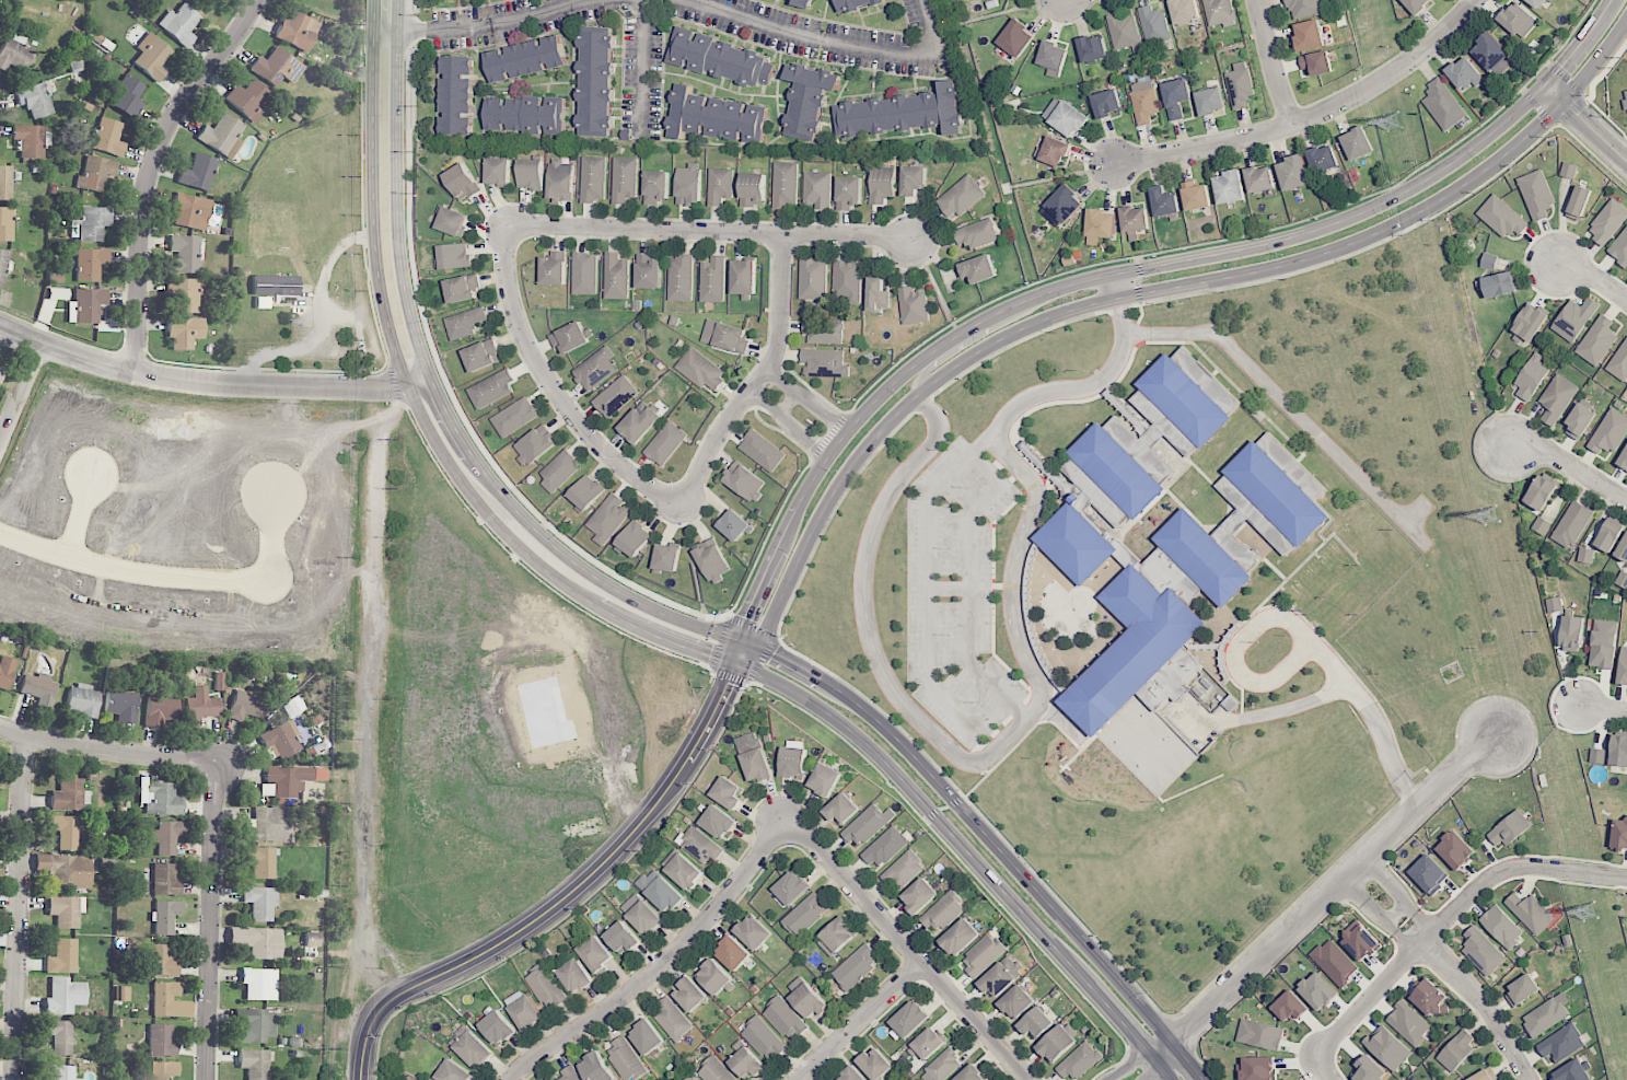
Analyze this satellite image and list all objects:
building: (1553, 0)
building: (1539, 2)
building: (806, 3)
building: (856, 4)
building: (1419, 5)
building: (1306, 7)
building: (1187, 11)
building: (1221, 11)
road: (535, 13)
building: (1521, 20)
building: (179, 24)
building: (1155, 25)
building: (297, 31)
road: (433, 31)
building: (1127, 32)
building: (1312, 35)
building: (1019, 37)
road: (829, 43)
building: (1095, 49)
building: (1495, 51)
building: (15, 54)
building: (152, 57)
building: (1055, 57)
building: (528, 58)
building: (720, 58)
road: (1270, 62)
building: (1318, 62)
road: (1548, 63)
building: (277, 67)
road: (642, 68)
building: (1466, 73)
street lamp: (1571, 77)
road: (1567, 80)
building: (600, 81)
building: (1242, 88)
road: (1522, 91)
building: (458, 95)
building: (127, 96)
building: (1178, 96)
road: (1587, 97)
building: (35, 98)
building: (811, 98)
building: (248, 100)
building: (1213, 101)
road: (1588, 101)
building: (1147, 102)
building: (1109, 103)
building: (1445, 105)
road: (1571, 109)
road: (1539, 111)
building: (907, 113)
building: (528, 115)
road: (1311, 115)
building: (719, 116)
road: (1608, 118)
building: (1071, 119)
road: (1584, 123)
road: (1558, 124)
power tower: (1397, 126)
road: (1553, 126)
building: (222, 136)
building: (108, 137)
building: (28, 140)
building: (1360, 143)
building: (1057, 151)
road: (1592, 154)
street lamp: (1483, 155)
building: (1325, 159)
road: (151, 170)
building: (1568, 170)
building: (498, 171)
building: (198, 172)
building: (1297, 173)
building: (95, 174)
building: (530, 174)
building: (593, 178)
building: (624, 178)
building: (560, 179)
building: (913, 179)
building: (1263, 179)
building: (462, 182)
building: (5, 183)
road: (362, 183)
building: (688, 184)
building: (785, 184)
building: (881, 184)
building: (720, 185)
building: (655, 186)
building: (1233, 187)
building: (753, 189)
building: (817, 189)
building: (848, 191)
building: (1536, 194)
building: (1198, 195)
building: (960, 197)
building: (1166, 201)
building: (1579, 202)
building: (1064, 207)
building: (190, 211)
street lamp: (1387, 214)
building: (1501, 217)
building: (1137, 220)
building: (452, 221)
building: (1607, 221)
building: (90, 222)
building: (5, 224)
building: (1102, 225)
road: (708, 231)
building: (977, 233)
building: (1619, 247)
building: (183, 254)
street lamp: (1280, 254)
building: (454, 255)
road: (1200, 256)
building: (2, 264)
building: (90, 264)
building: (554, 268)
building: (977, 269)
building: (648, 271)
building: (584, 272)
building: (616, 276)
building: (744, 276)
street lamp: (1170, 276)
road: (1594, 276)
building: (681, 278)
building: (813, 278)
building: (713, 279)
building: (848, 280)
building: (275, 284)
building: (1499, 284)
road: (1113, 286)
building: (462, 288)
road: (1140, 292)
building: (878, 293)
building: (185, 294)
street lamp: (1072, 299)
building: (85, 305)
building: (914, 305)
building: (1574, 318)
building: (464, 323)
building: (1529, 324)
building: (824, 330)
building: (184, 332)
building: (725, 336)
building: (570, 337)
street lamp: (983, 337)
road: (971, 340)
building: (1597, 340)
building: (481, 355)
street lamp: (149, 357)
building: (1619, 361)
building: (824, 362)
building: (596, 368)
building: (700, 369)
building: (0, 371)
building: (1531, 376)
road: (757, 379)
road: (210, 383)
road: (391, 383)
building: (491, 388)
road: (553, 390)
street lamp: (904, 393)
road: (437, 394)
building: (615, 396)
road: (21, 397)
road: (806, 397)
building: (1557, 397)
road: (453, 398)
road: (1286, 402)
road: (788, 403)
road: (419, 411)
building: (514, 417)
building: (1579, 421)
building: (639, 422)
road: (788, 423)
building: (1118, 428)
building: (1158, 430)
building: (1609, 431)
building: (665, 443)
building: (535, 444)
building: (762, 450)
building: (1623, 460)
road: (1570, 466)
street lamp: (834, 469)
building: (559, 471)
street lamp: (442, 479)
building: (744, 480)
building: (586, 491)
building: (1541, 492)
building: (1269, 496)
road: (85, 516)
power tower: (1491, 516)
building: (608, 518)
building: (1572, 524)
building: (734, 525)
road: (786, 527)
building: (1609, 534)
building: (635, 538)
building: (1076, 543)
building: (1623, 548)
street lamp: (791, 549)
building: (1585, 555)
building: (667, 557)
building: (1126, 557)
building: (1204, 557)
building: (712, 559)
road: (525, 567)
road: (967, 573)
road: (174, 577)
building: (1622, 579)
road: (755, 591)
building: (1554, 604)
road: (930, 613)
street lamp: (762, 614)
traffic signals: (744, 617)
building: (1572, 632)
road: (771, 634)
road: (1306, 636)
building: (1603, 643)
street lamp: (641, 644)
building: (1132, 648)
road: (736, 650)
traffic signals: (775, 653)
traffic signals: (707, 654)
road: (764, 658)
building: (1623, 666)
building: (5, 672)
road: (730, 674)
traffic signals: (728, 682)
building: (38, 688)
building: (83, 700)
building: (287, 704)
road: (797, 705)
building: (121, 706)
building: (200, 706)
building: (246, 706)
road: (1603, 706)
road: (1032, 710)
building: (162, 711)
road: (1274, 711)
road: (373, 724)
building: (279, 742)
building: (1618, 750)
road: (108, 752)
building: (1597, 755)
building: (756, 765)
building: (824, 779)
building: (289, 780)
building: (727, 792)
building: (69, 794)
building: (159, 798)
building: (841, 809)
road: (980, 815)
building: (718, 822)
building: (269, 825)
building: (868, 825)
building: (1509, 828)
building: (65, 832)
building: (1619, 832)
road: (987, 836)
building: (166, 837)
building: (699, 844)
building: (885, 847)
building: (1455, 849)
road: (969, 852)
building: (260, 861)
building: (904, 869)
building: (66, 870)
building: (684, 871)
building: (1429, 873)
building: (165, 880)
road: (1391, 883)
road: (1335, 885)
building: (792, 886)
road: (986, 889)
building: (660, 890)
building: (919, 895)
road: (565, 897)
building: (260, 902)
road: (22, 907)
road: (1367, 907)
building: (66, 910)
building: (942, 910)
power tower: (1584, 910)
building: (1531, 911)
building: (640, 913)
road: (1396, 913)
road: (1449, 914)
building: (804, 915)
building: (165, 916)
road: (216, 920)
road: (1419, 926)
building: (1501, 926)
building: (754, 932)
road: (1410, 936)
building: (621, 937)
building: (836, 937)
building: (958, 937)
building: (312, 939)
building: (257, 941)
building: (1360, 941)
road: (908, 950)
building: (1481, 951)
building: (732, 952)
building: (595, 954)
building: (983, 954)
building: (62, 957)
building: (161, 961)
building: (1334, 962)
road: (655, 965)
building: (857, 966)
building: (576, 975)
building: (1001, 976)
building: (714, 978)
building: (259, 984)
building: (546, 987)
building: (1317, 990)
building: (1521, 990)
building: (690, 994)
building: (63, 997)
building: (806, 998)
building: (1431, 998)
building: (168, 1000)
building: (1016, 1001)
road: (1483, 1004)
building: (1289, 1006)
building: (523, 1009)
building: (1545, 1017)
building: (672, 1018)
building: (785, 1018)
building: (909, 1019)
road: (857, 1022)
building: (1036, 1023)
building: (1408, 1023)
building: (256, 1025)
building: (498, 1027)
road: (1181, 1033)
building: (1259, 1034)
building: (59, 1036)
building: (647, 1036)
building: (764, 1038)
building: (161, 1041)
building: (1057, 1042)
building: (927, 1043)
building: (1561, 1043)
road: (1162, 1047)
building: (1387, 1047)
building: (474, 1049)
building: (1456, 1050)
building: (626, 1059)
building: (1079, 1060)
building: (745, 1061)
building: (254, 1064)
building: (874, 1064)
road: (1138, 1064)
road: (1127, 1065)
building: (942, 1066)
road: (1204, 1066)
building: (596, 1067)
building: (1258, 1068)
road: (1323, 1068)
road: (1150, 1069)
building: (1369, 1069)
building: (163, 1070)
building: (714, 1070)
building: (453, 1071)
building: (1572, 1071)
building: (62, 1072)
building: (971, 1073)
building: (569, 1075)
building: (852, 1075)
building: (1483, 1076)
building: (692, 1078)

